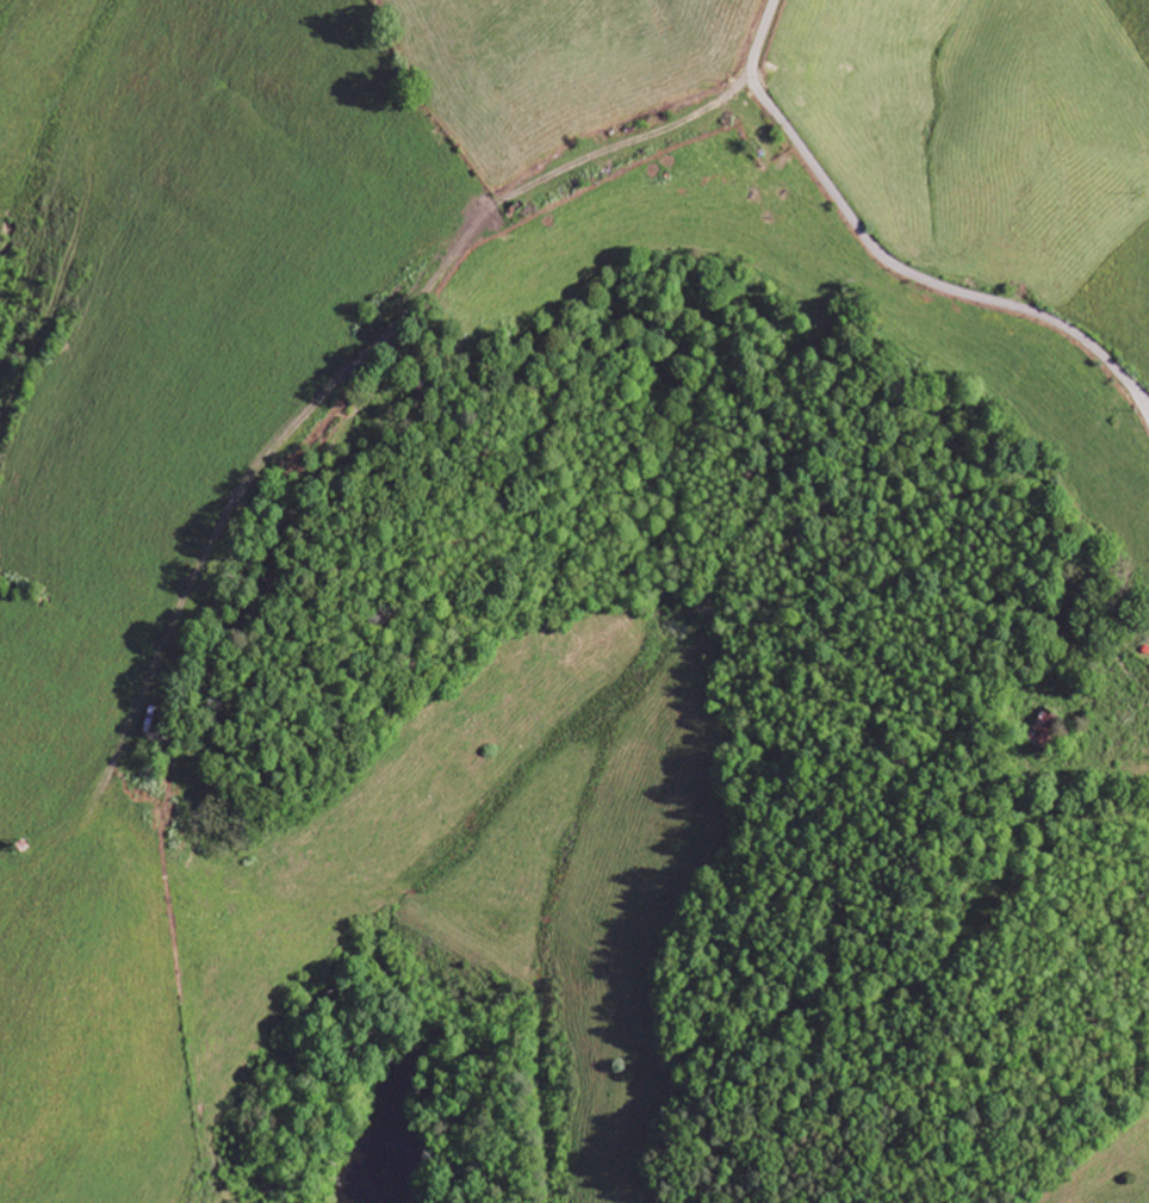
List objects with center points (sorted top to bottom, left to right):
road: (887, 256)

